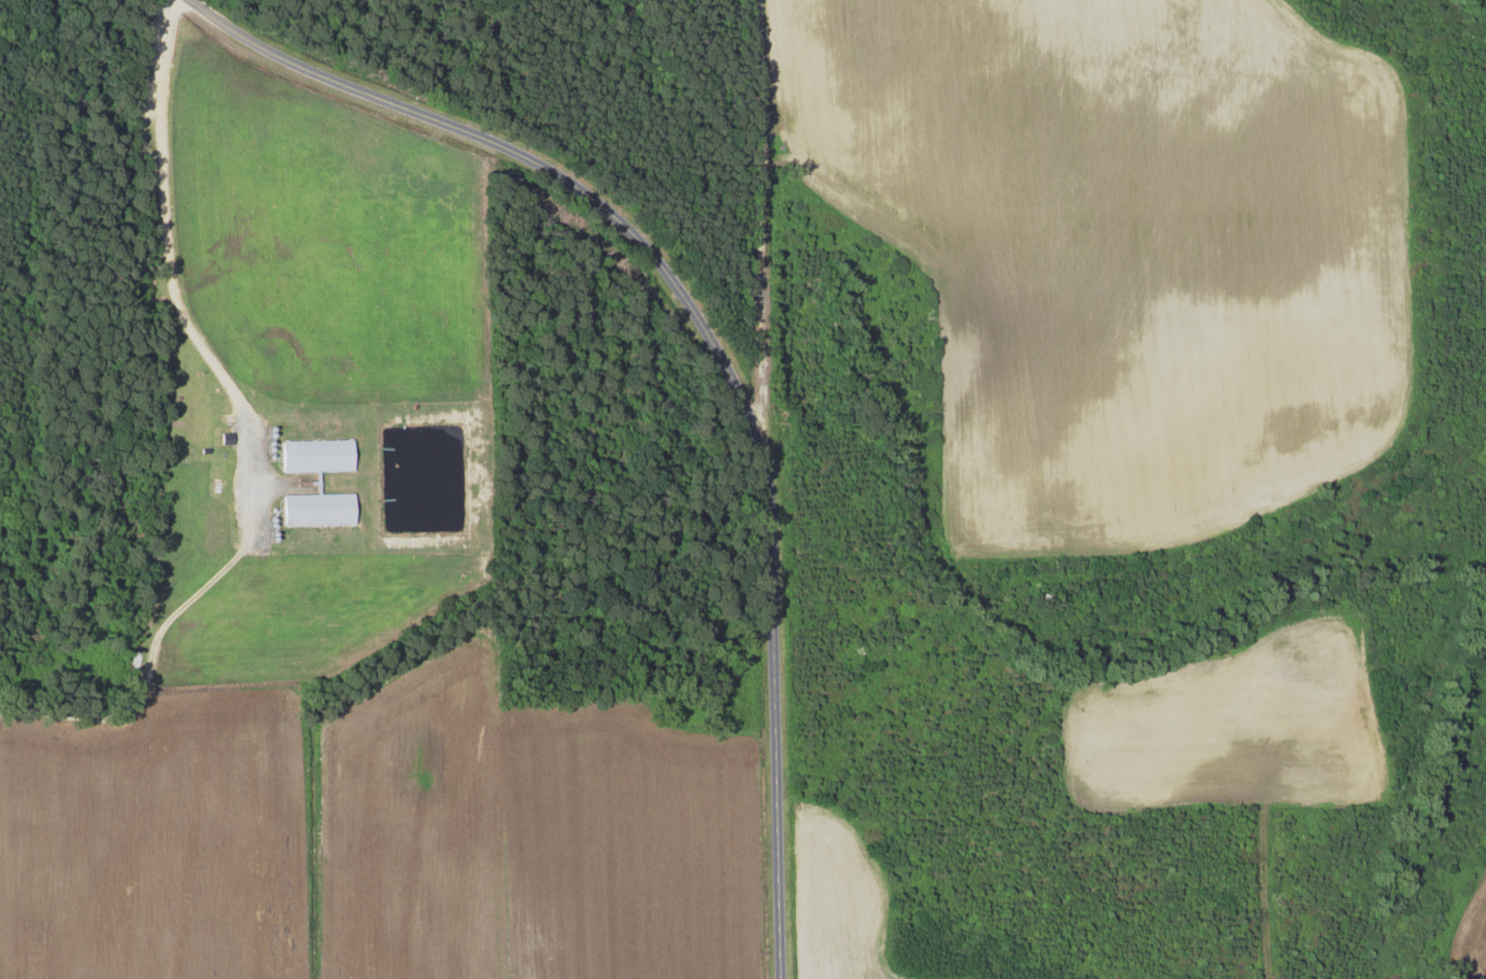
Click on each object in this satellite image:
road: (709, 348)
building: (314, 455)
building: (314, 509)

